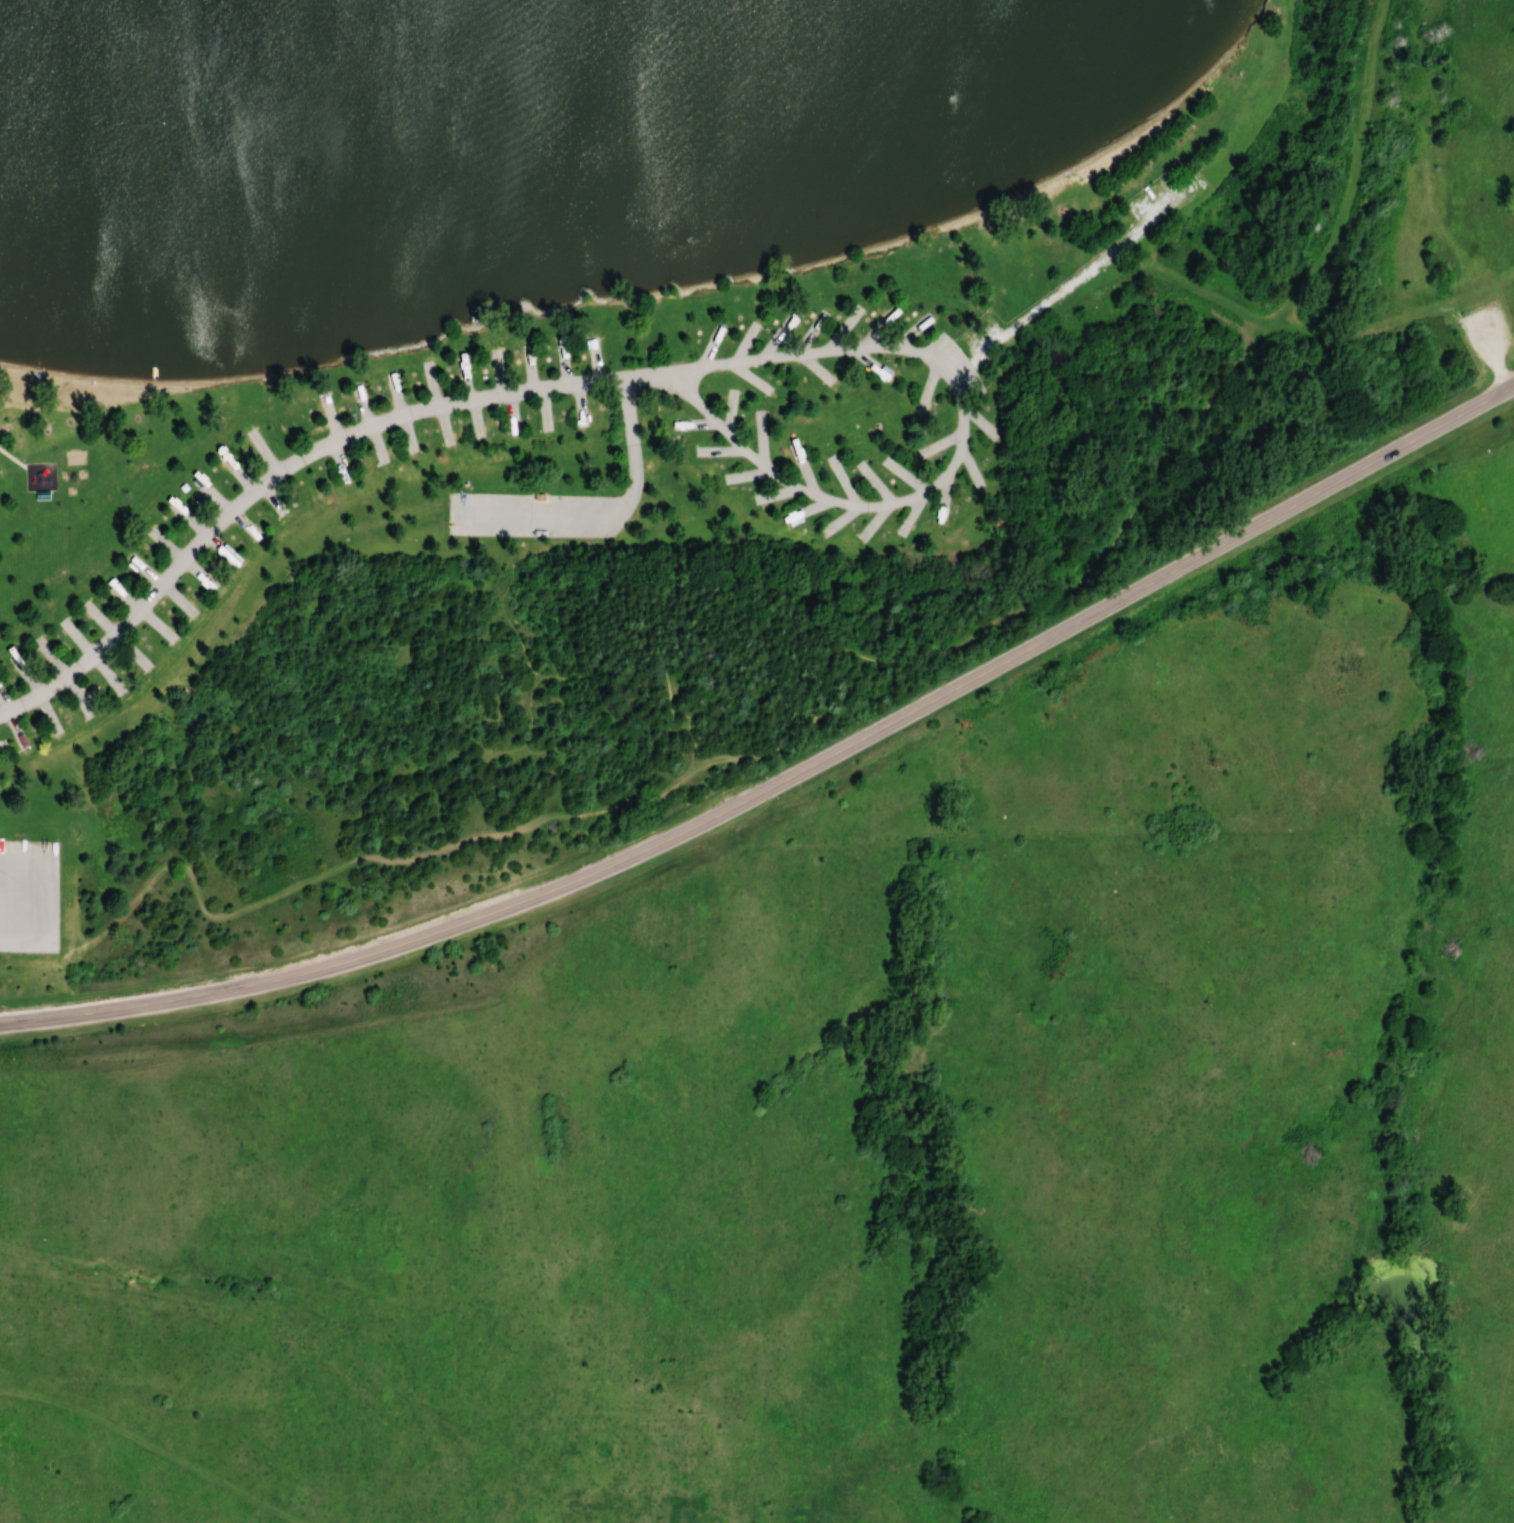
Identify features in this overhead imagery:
road: (1350, 176)
road: (1099, 266)
parking lot: (1487, 334)
road: (1501, 378)
park: (644, 406)
road: (960, 446)
road: (294, 462)
parking lot: (537, 514)
road: (601, 517)
road: (798, 710)
road: (785, 777)
parking lot: (27, 895)

